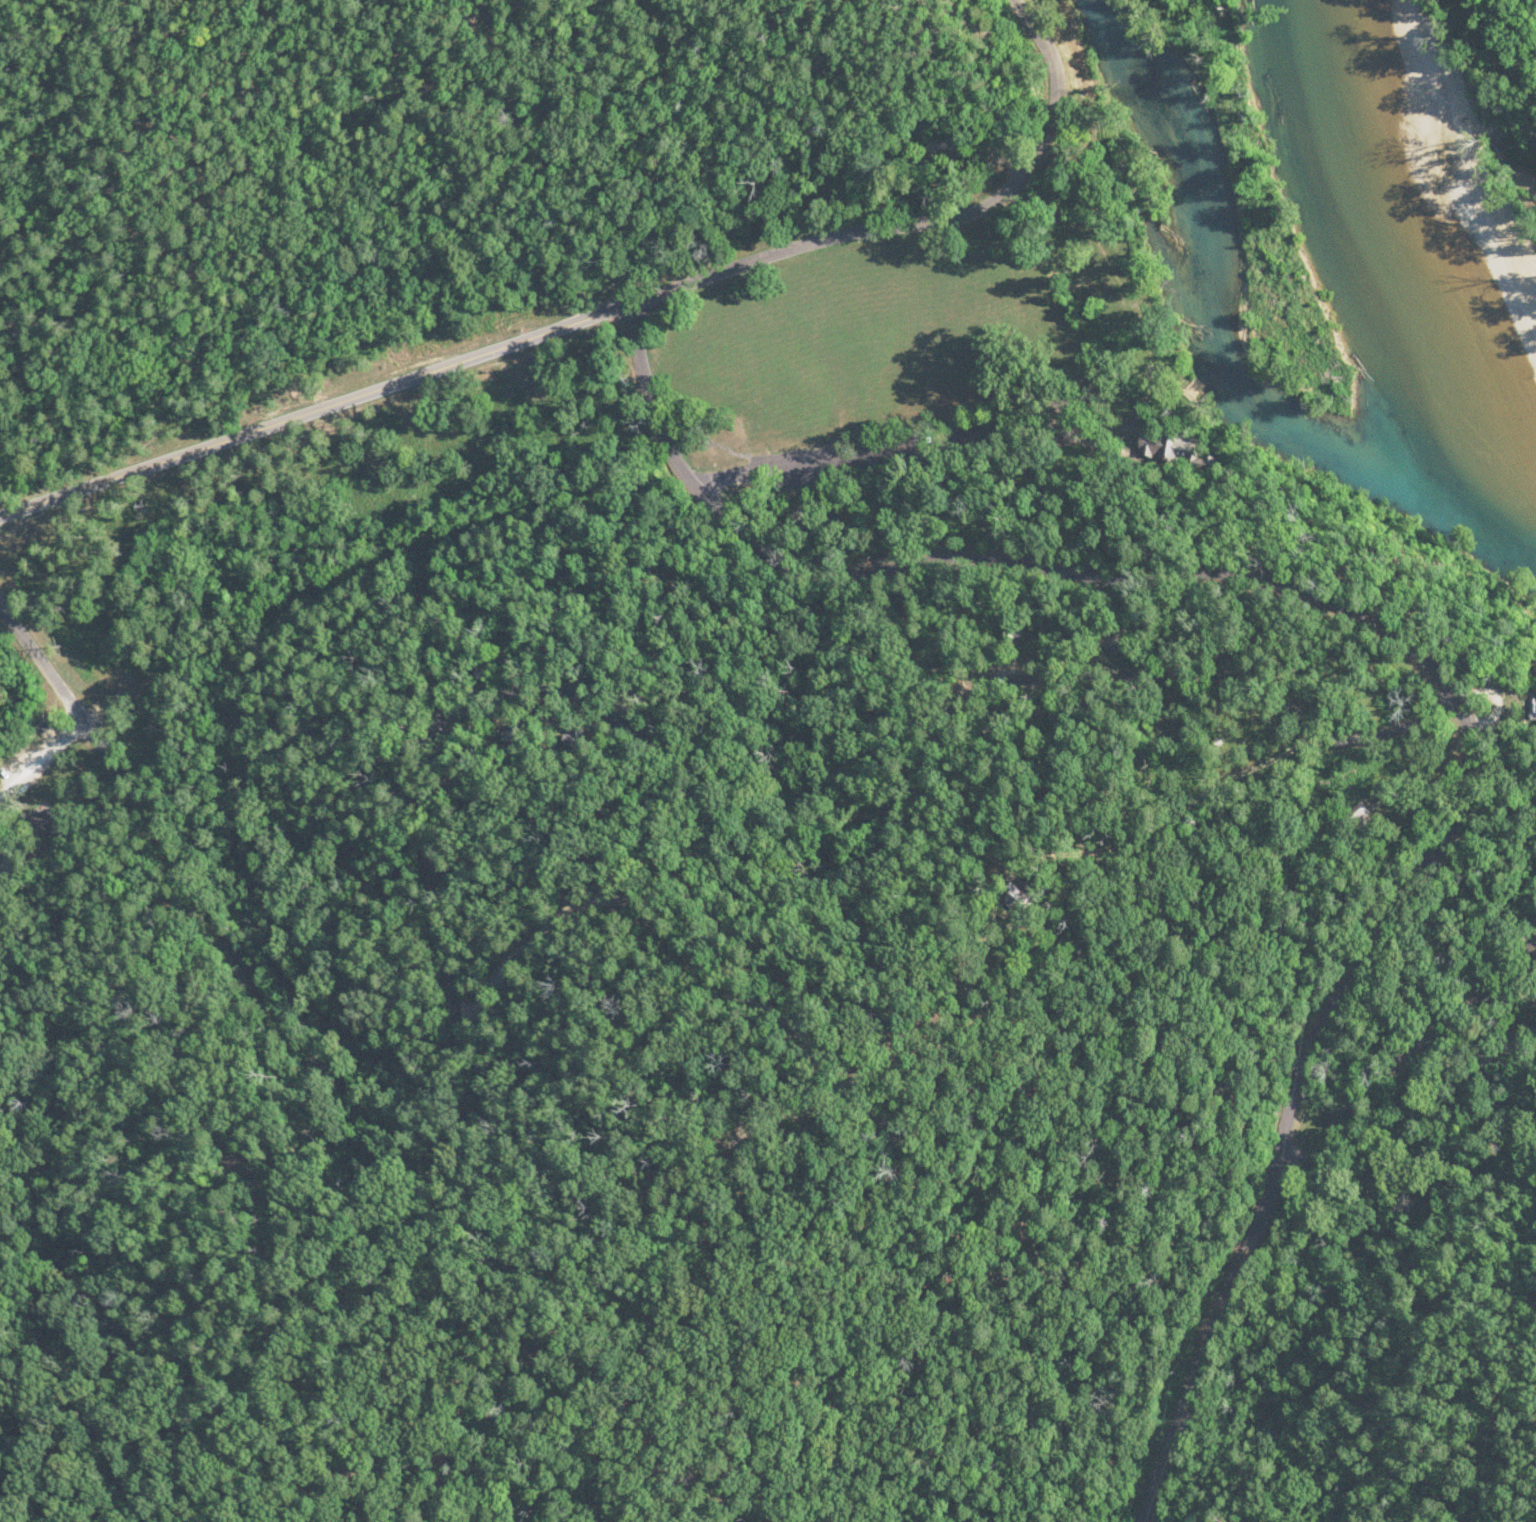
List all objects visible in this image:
road: (1050, 88)
road: (822, 239)
river: (1402, 251)
river: (1222, 346)
road: (315, 405)
road: (1192, 418)
road: (809, 486)
road: (1415, 646)
road: (46, 673)
road: (592, 700)
building: (1059, 714)
building: (510, 734)
road: (48, 765)
park: (758, 769)
building: (44, 820)
road: (665, 827)
road: (1070, 853)
road: (944, 1036)
road: (1405, 1045)
road: (1477, 1061)
road: (825, 1098)
road: (1355, 1303)
road: (551, 1338)

